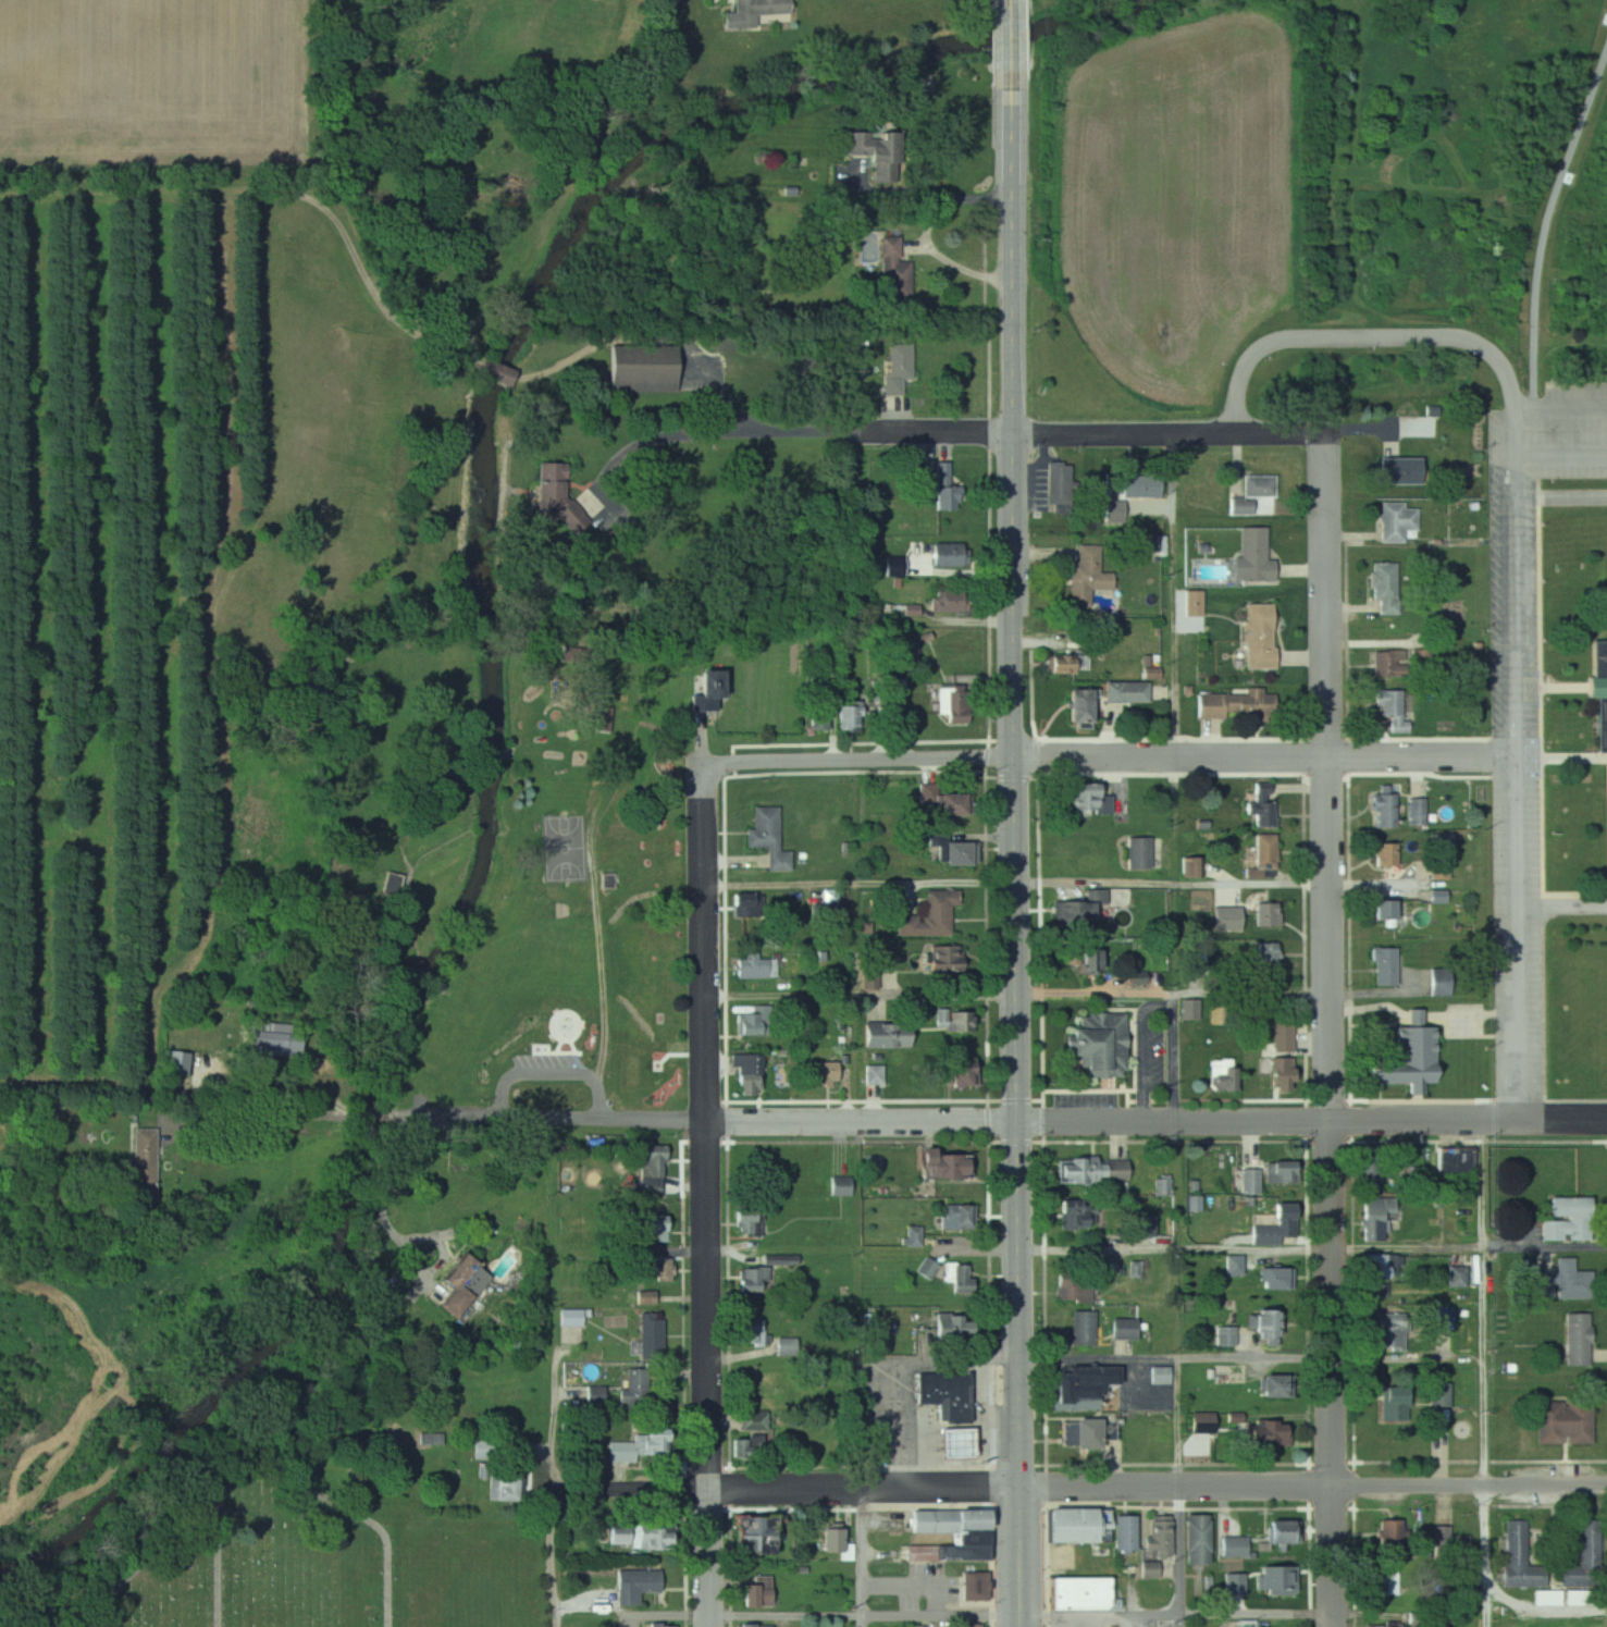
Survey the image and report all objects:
building: (761, 7)
river: (1102, 15)
road: (1013, 44)
building: (866, 145)
road: (1012, 231)
building: (894, 273)
road: (1370, 337)
building: (899, 366)
building: (641, 369)
building: (493, 371)
road: (1031, 433)
park: (1587, 433)
road: (647, 443)
building: (1398, 470)
building: (1059, 483)
building: (1141, 483)
building: (1259, 485)
road: (1561, 495)
building: (557, 497)
building: (1396, 520)
building: (945, 554)
building: (1252, 557)
building: (1086, 577)
building: (1385, 588)
road: (1177, 595)
building: (945, 600)
building: (1192, 603)
building: (1258, 636)
building: (1420, 658)
building: (1058, 663)
building: (1388, 663)
building: (705, 683)
building: (1599, 688)
building: (1126, 691)
building: (945, 701)
building: (1237, 704)
building: (1078, 705)
building: (1390, 710)
building: (882, 715)
building: (853, 717)
road: (1013, 749)
road: (1265, 756)
road: (858, 760)
road: (1519, 773)
building: (1086, 799)
building: (947, 804)
building: (1385, 810)
building: (1418, 812)
building: (1262, 814)
building: (820, 829)
building: (768, 837)
park: (566, 847)
building: (951, 849)
building: (1264, 851)
building: (1138, 853)
building: (1386, 855)
road: (1017, 885)
park: (580, 895)
road: (1563, 908)
building: (1077, 909)
building: (1383, 910)
building: (1237, 911)
building: (1266, 914)
building: (931, 915)
building: (944, 958)
building: (1269, 960)
building: (1087, 961)
building: (755, 965)
building: (1385, 966)
road: (1017, 995)
building: (1189, 1009)
road: (1331, 1032)
building: (883, 1035)
building: (1283, 1038)
building: (283, 1040)
building: (1098, 1044)
building: (1406, 1056)
building: (1280, 1068)
building: (641, 1071)
building: (825, 1072)
building: (744, 1073)
building: (874, 1074)
building: (957, 1074)
building: (1220, 1075)
road: (255, 1087)
road: (333, 1113)
road: (396, 1119)
road: (1010, 1122)
road: (257, 1130)
building: (152, 1154)
building: (1456, 1162)
building: (938, 1166)
building: (1371, 1168)
building: (653, 1169)
building: (1091, 1170)
building: (1280, 1172)
building: (1250, 1182)
building: (839, 1186)
building: (1163, 1186)
road: (707, 1194)
building: (1077, 1215)
building: (957, 1217)
building: (1375, 1218)
building: (1568, 1219)
building: (746, 1221)
building: (1272, 1228)
building: (653, 1229)
road: (396, 1235)
building: (914, 1236)
road: (1546, 1246)
road: (1251, 1248)
building: (786, 1260)
building: (1234, 1266)
building: (1377, 1267)
building: (654, 1268)
building: (928, 1269)
building: (1137, 1269)
building: (1457, 1277)
building: (754, 1278)
building: (957, 1279)
building: (1276, 1279)
building: (1562, 1282)
building: (472, 1286)
building: (1073, 1289)
building: (1375, 1291)
road: (1180, 1310)
building: (570, 1317)
building: (1438, 1318)
building: (940, 1326)
building: (1083, 1328)
building: (1125, 1328)
building: (1264, 1328)
building: (752, 1332)
building: (1389, 1332)
building: (651, 1335)
building: (1225, 1336)
building: (1578, 1340)
building: (786, 1346)
road: (1251, 1364)
road: (891, 1368)
building: (1229, 1373)
road: (1486, 1373)
road: (1018, 1375)
building: (1159, 1375)
building: (1079, 1383)
building: (635, 1386)
building: (1271, 1388)
building: (943, 1394)
building: (1439, 1394)
building: (1394, 1405)
road: (559, 1419)
building: (755, 1419)
building: (1201, 1422)
building: (1565, 1422)
building: (1087, 1431)
building: (1265, 1432)
road: (993, 1439)
road: (953, 1440)
building: (953, 1443)
building: (749, 1444)
building: (628, 1449)
road: (925, 1459)
building: (502, 1484)
road: (1083, 1488)
building: (1102, 1519)
building: (1065, 1524)
building: (1277, 1531)
building: (1125, 1532)
building: (749, 1533)
building: (1158, 1536)
building: (650, 1537)
building: (972, 1538)
building: (1197, 1538)
building: (1394, 1540)
building: (832, 1541)
building: (1450, 1544)
building: (1234, 1546)
road: (554, 1557)
building: (1519, 1557)
building: (1585, 1557)
road: (866, 1558)
building: (1150, 1568)
park: (323, 1575)
building: (1385, 1579)
building: (635, 1583)
building: (756, 1590)
building: (1075, 1592)
road: (632, 1612)
road: (1023, 1616)
building: (1246, 1624)
building: (660, 1625)
building: (754, 1625)
building: (961, 1625)
building: (1387, 1625)

